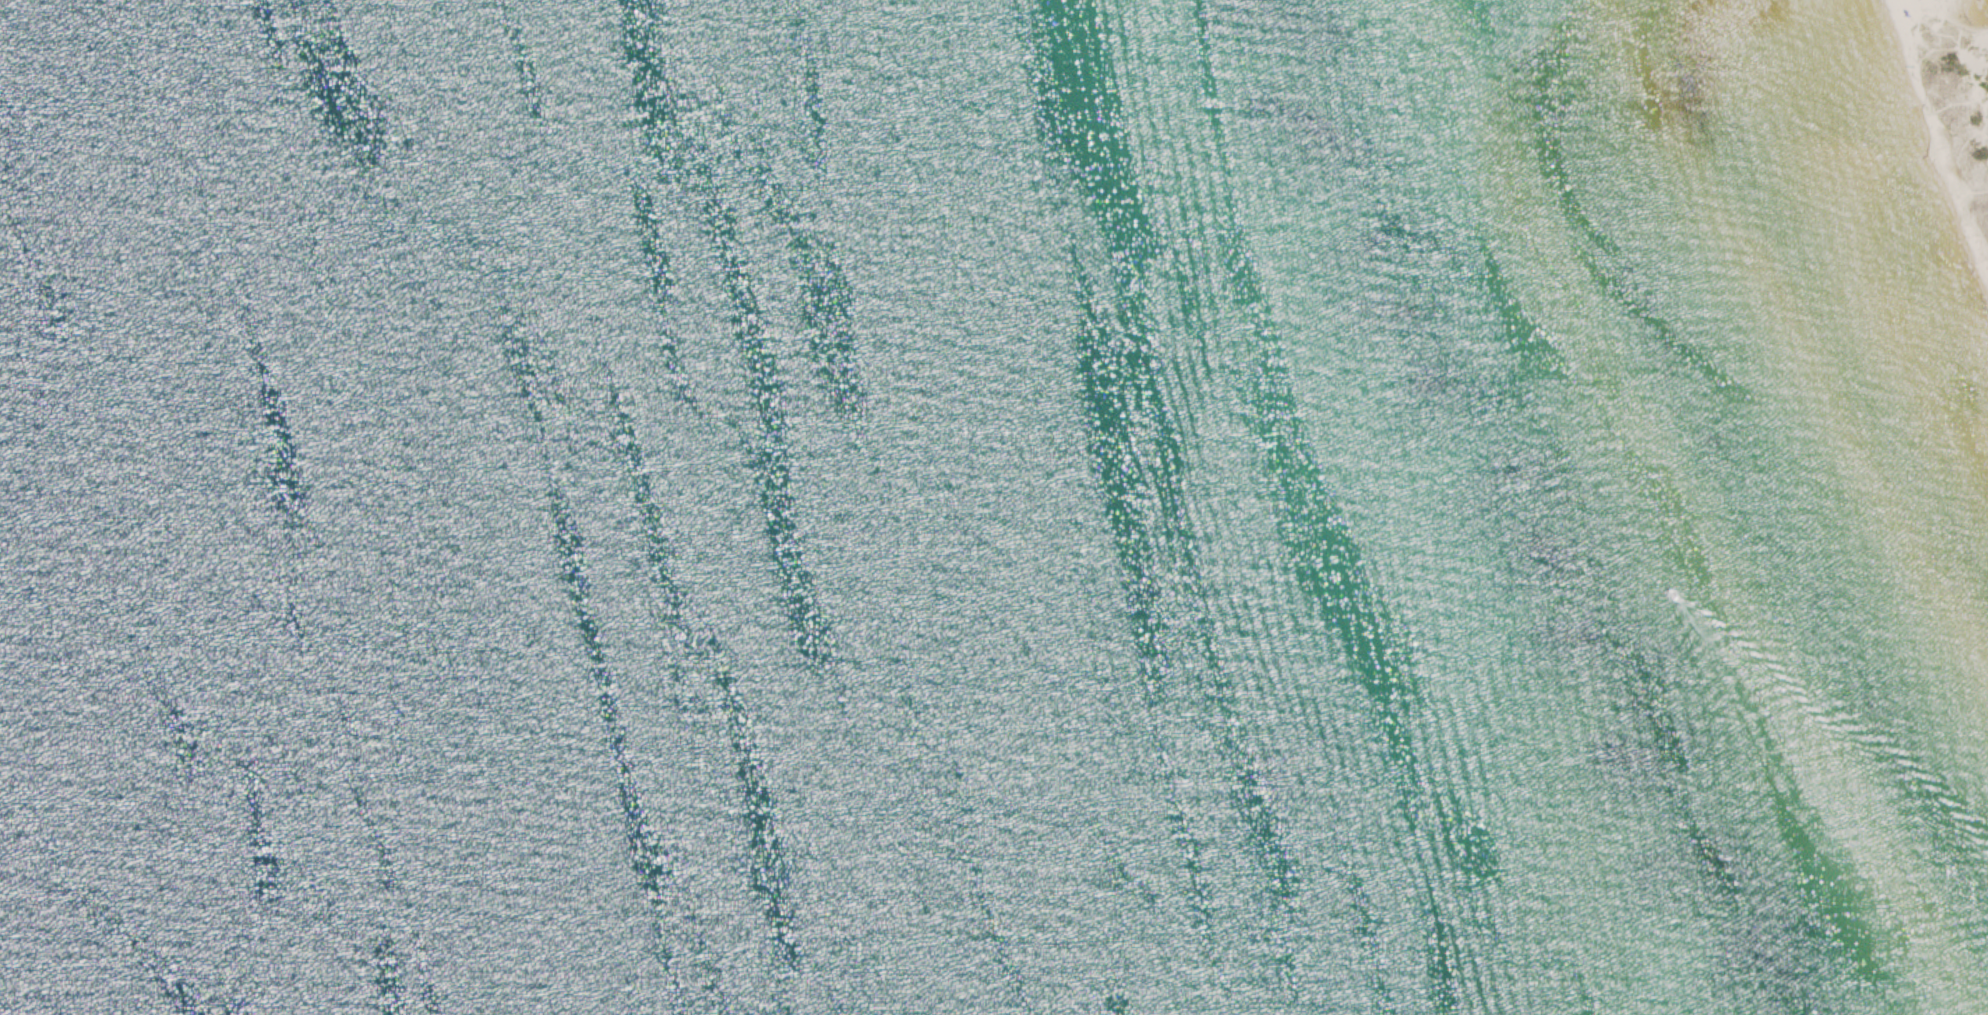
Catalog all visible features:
park: (1895, 208)

